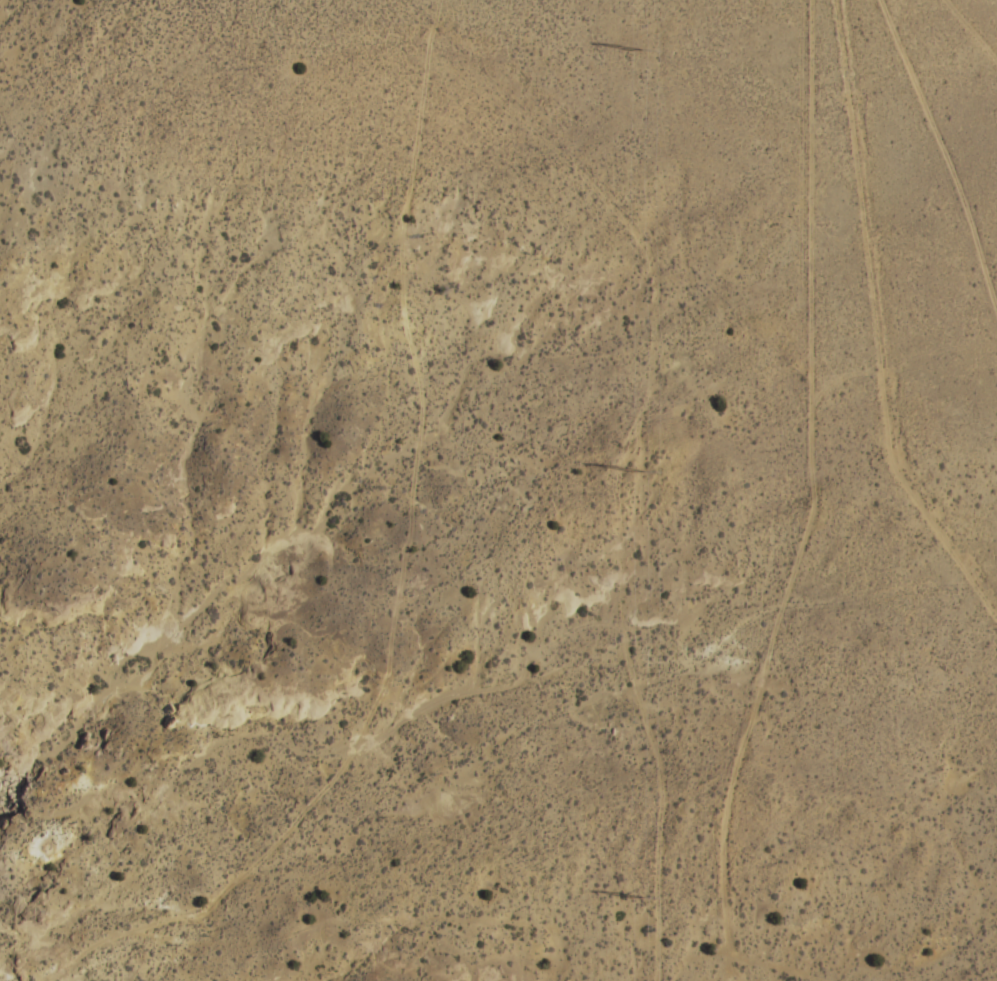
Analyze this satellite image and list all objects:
power tower: (639, 47)
road: (949, 57)
power tower: (640, 470)
power tower: (644, 895)

